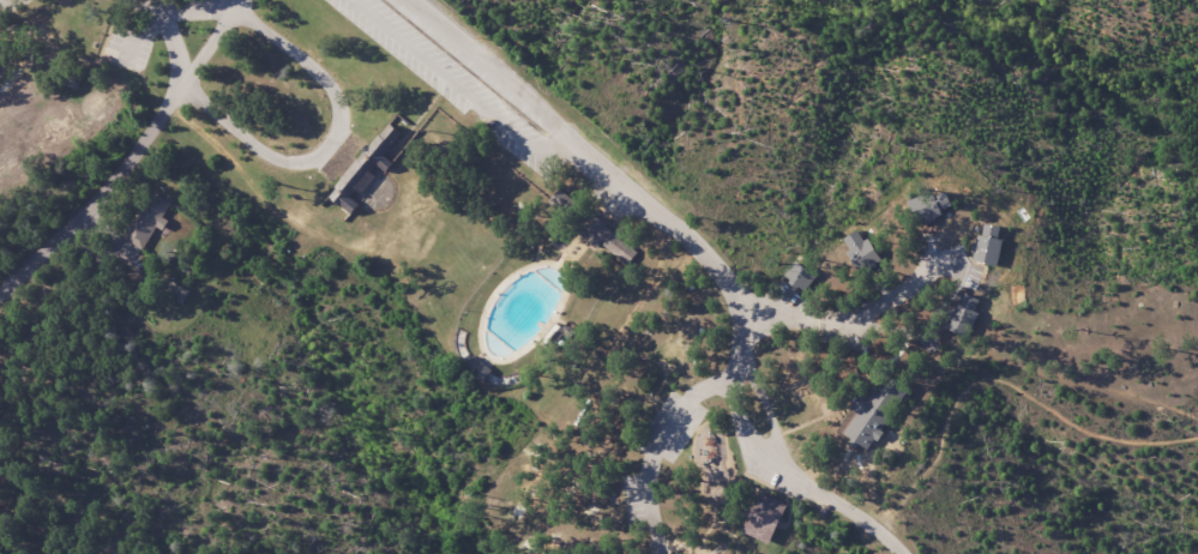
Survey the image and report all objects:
road: (5, 1)
road: (142, 6)
road: (188, 13)
road: (206, 50)
road: (175, 55)
building: (2, 59)
park: (44, 61)
parking lot: (459, 82)
building: (68, 85)
road: (330, 139)
road: (583, 152)
building: (371, 163)
road: (94, 206)
building: (149, 217)
building: (608, 241)
building: (985, 251)
building: (801, 275)
park: (609, 281)
road: (904, 281)
building: (989, 289)
building: (964, 314)
road: (1004, 381)
building: (867, 420)
road: (657, 447)
road: (775, 463)
building: (766, 516)

